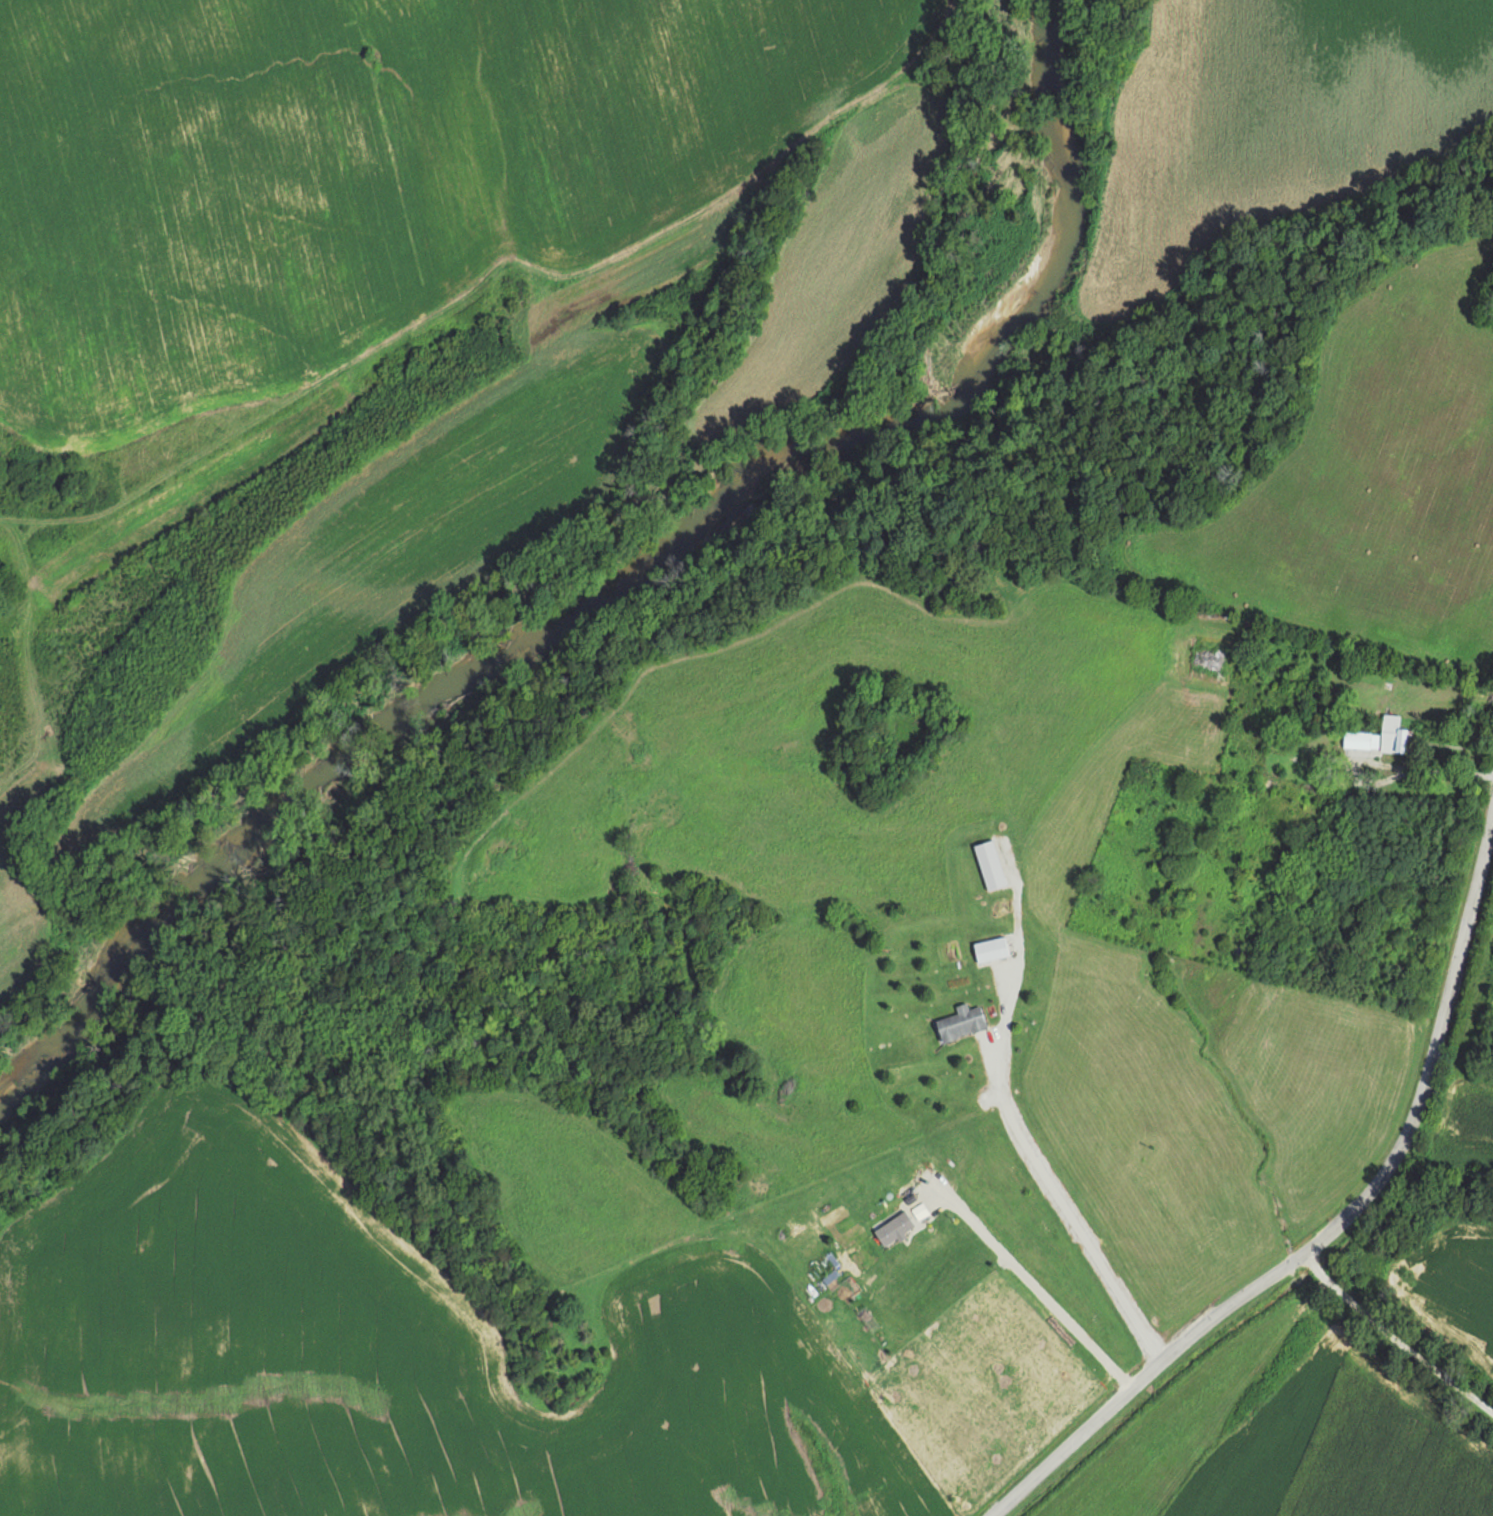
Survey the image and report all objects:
river: (618, 572)
building: (1201, 656)
building: (1392, 734)
building: (988, 864)
building: (989, 948)
building: (959, 1022)
building: (882, 1210)
road: (1304, 1242)
road: (1389, 1357)

